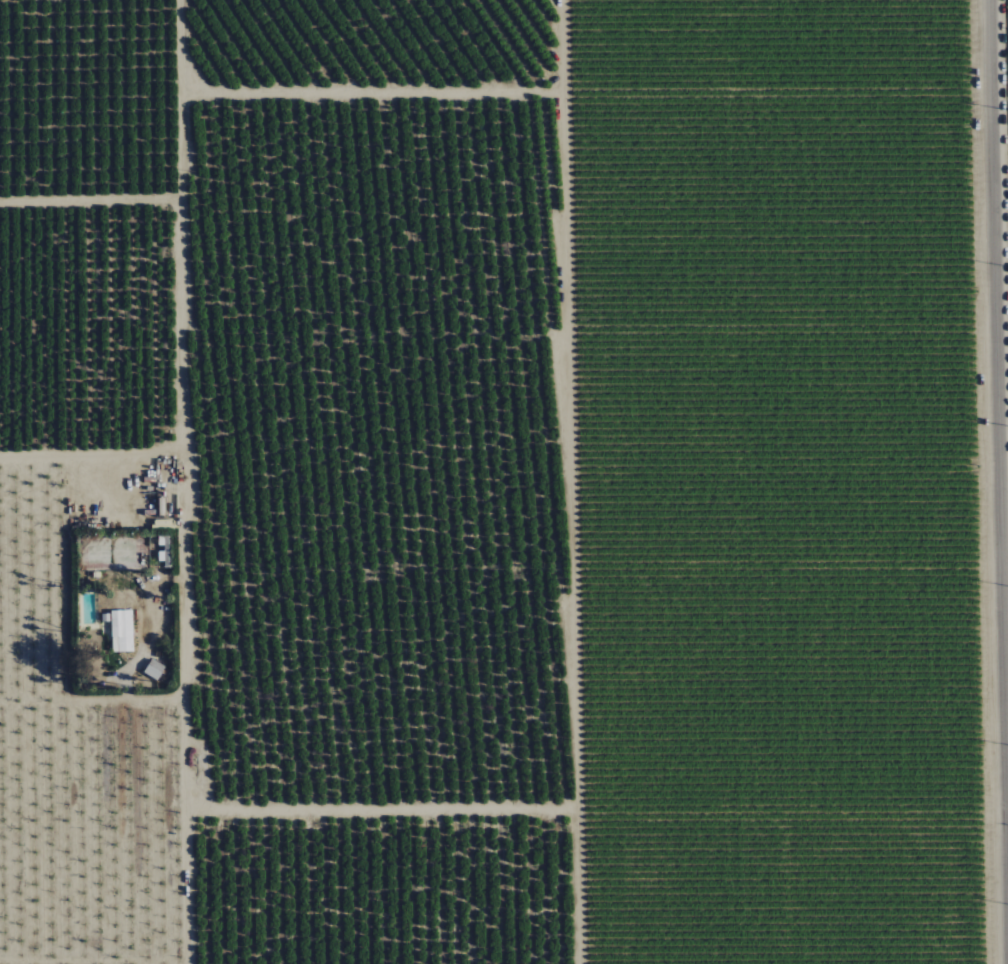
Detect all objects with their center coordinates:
road: (990, 482)
building: (121, 631)
building: (153, 669)
road: (185, 770)

